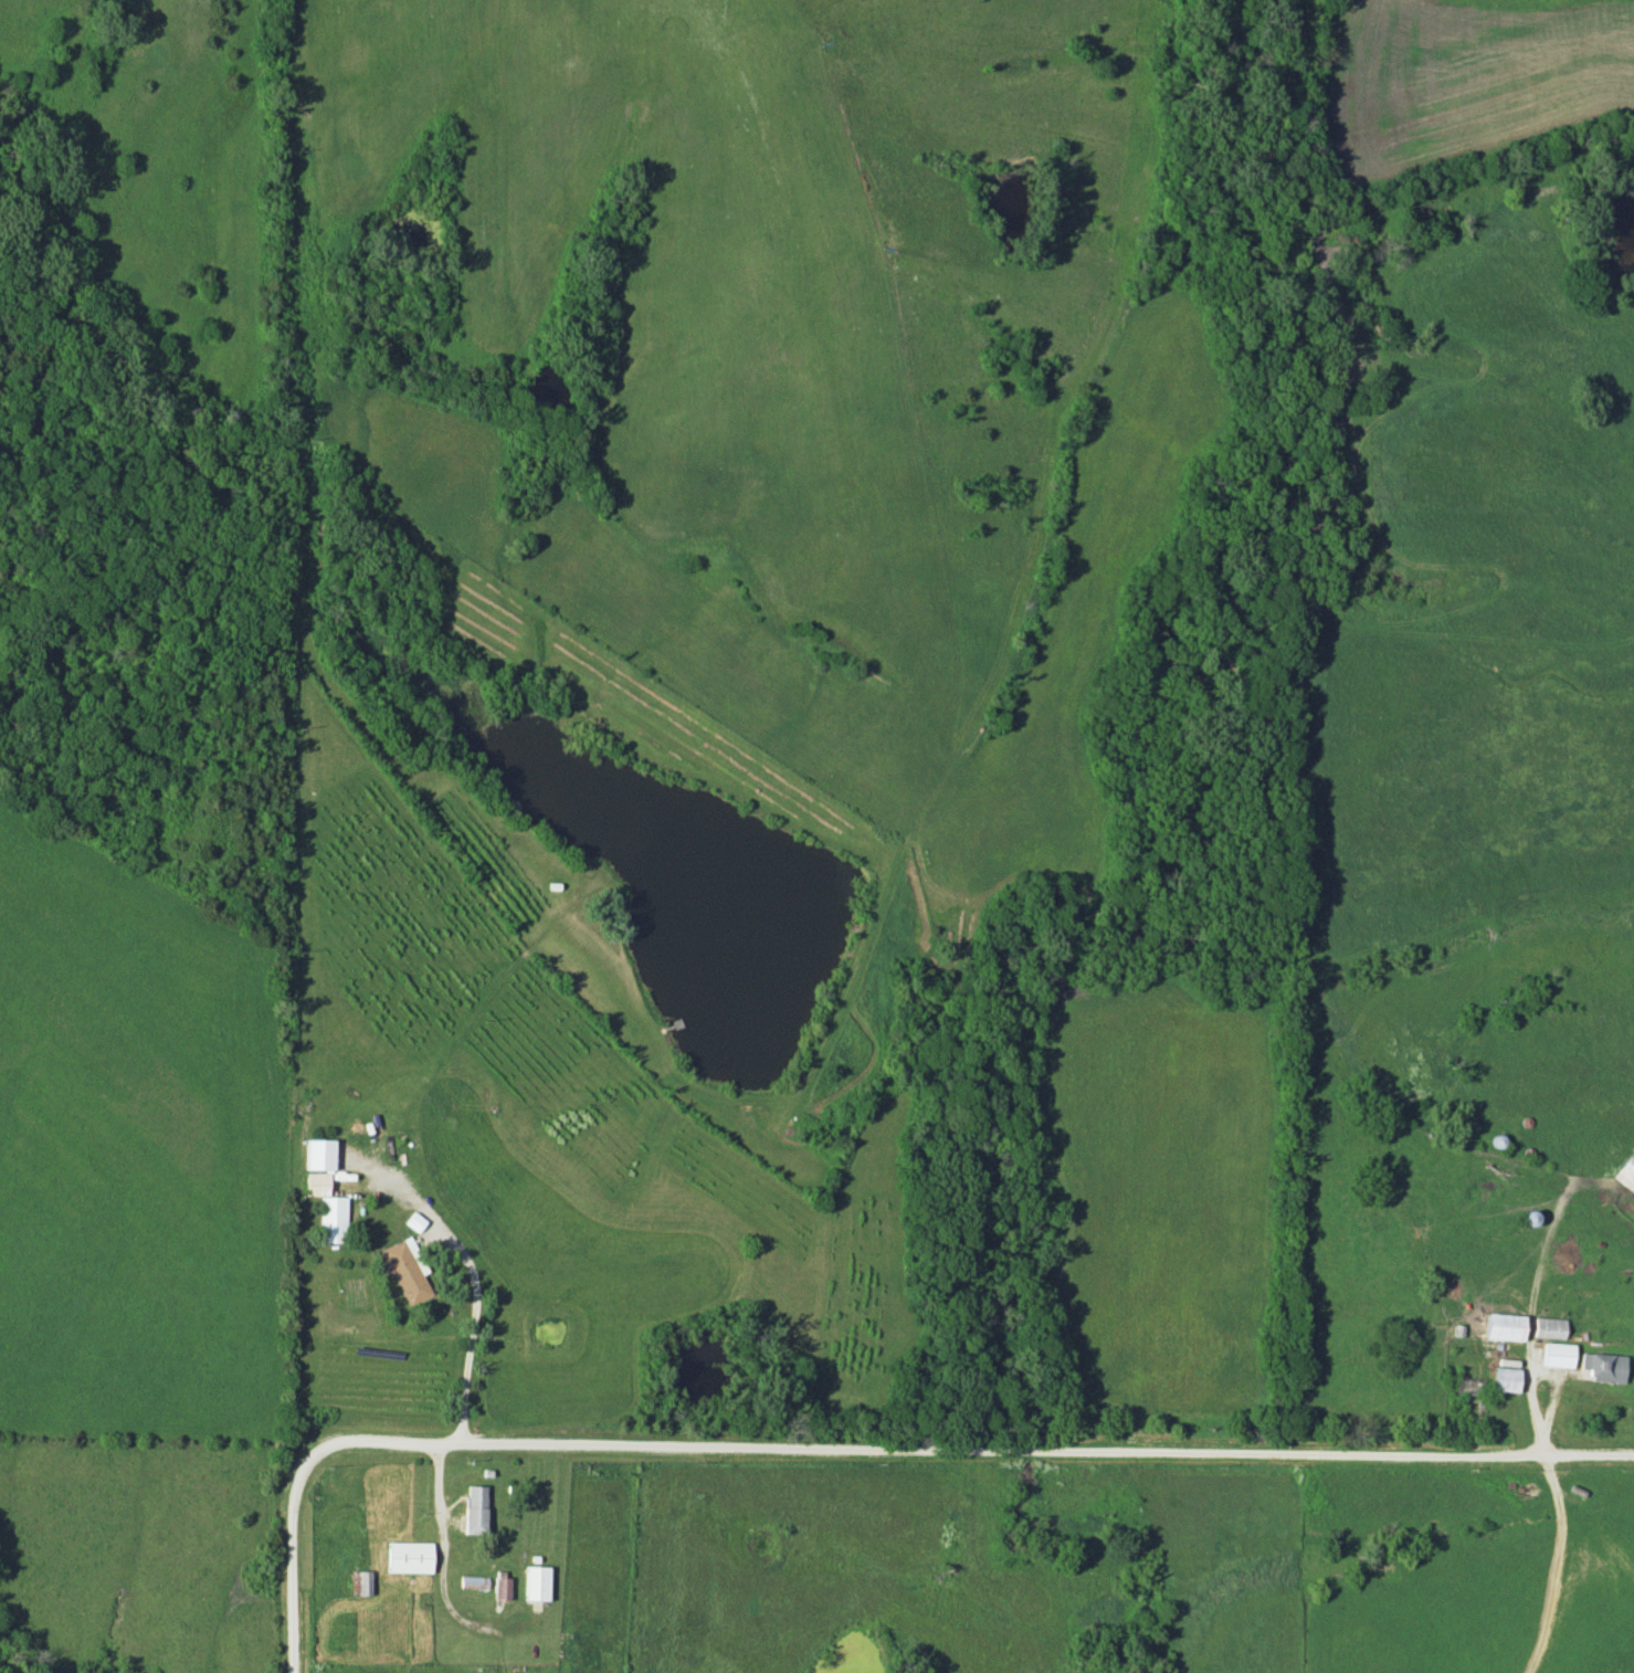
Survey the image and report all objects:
building: (1627, 1172)
building: (330, 1207)
building: (410, 1273)
building: (1506, 1326)
building: (1551, 1326)
building: (1560, 1354)
building: (1606, 1366)
building: (1509, 1378)
road: (863, 1448)
building: (478, 1508)
building: (412, 1556)
building: (361, 1581)
building: (477, 1581)
building: (540, 1582)
building: (505, 1585)

